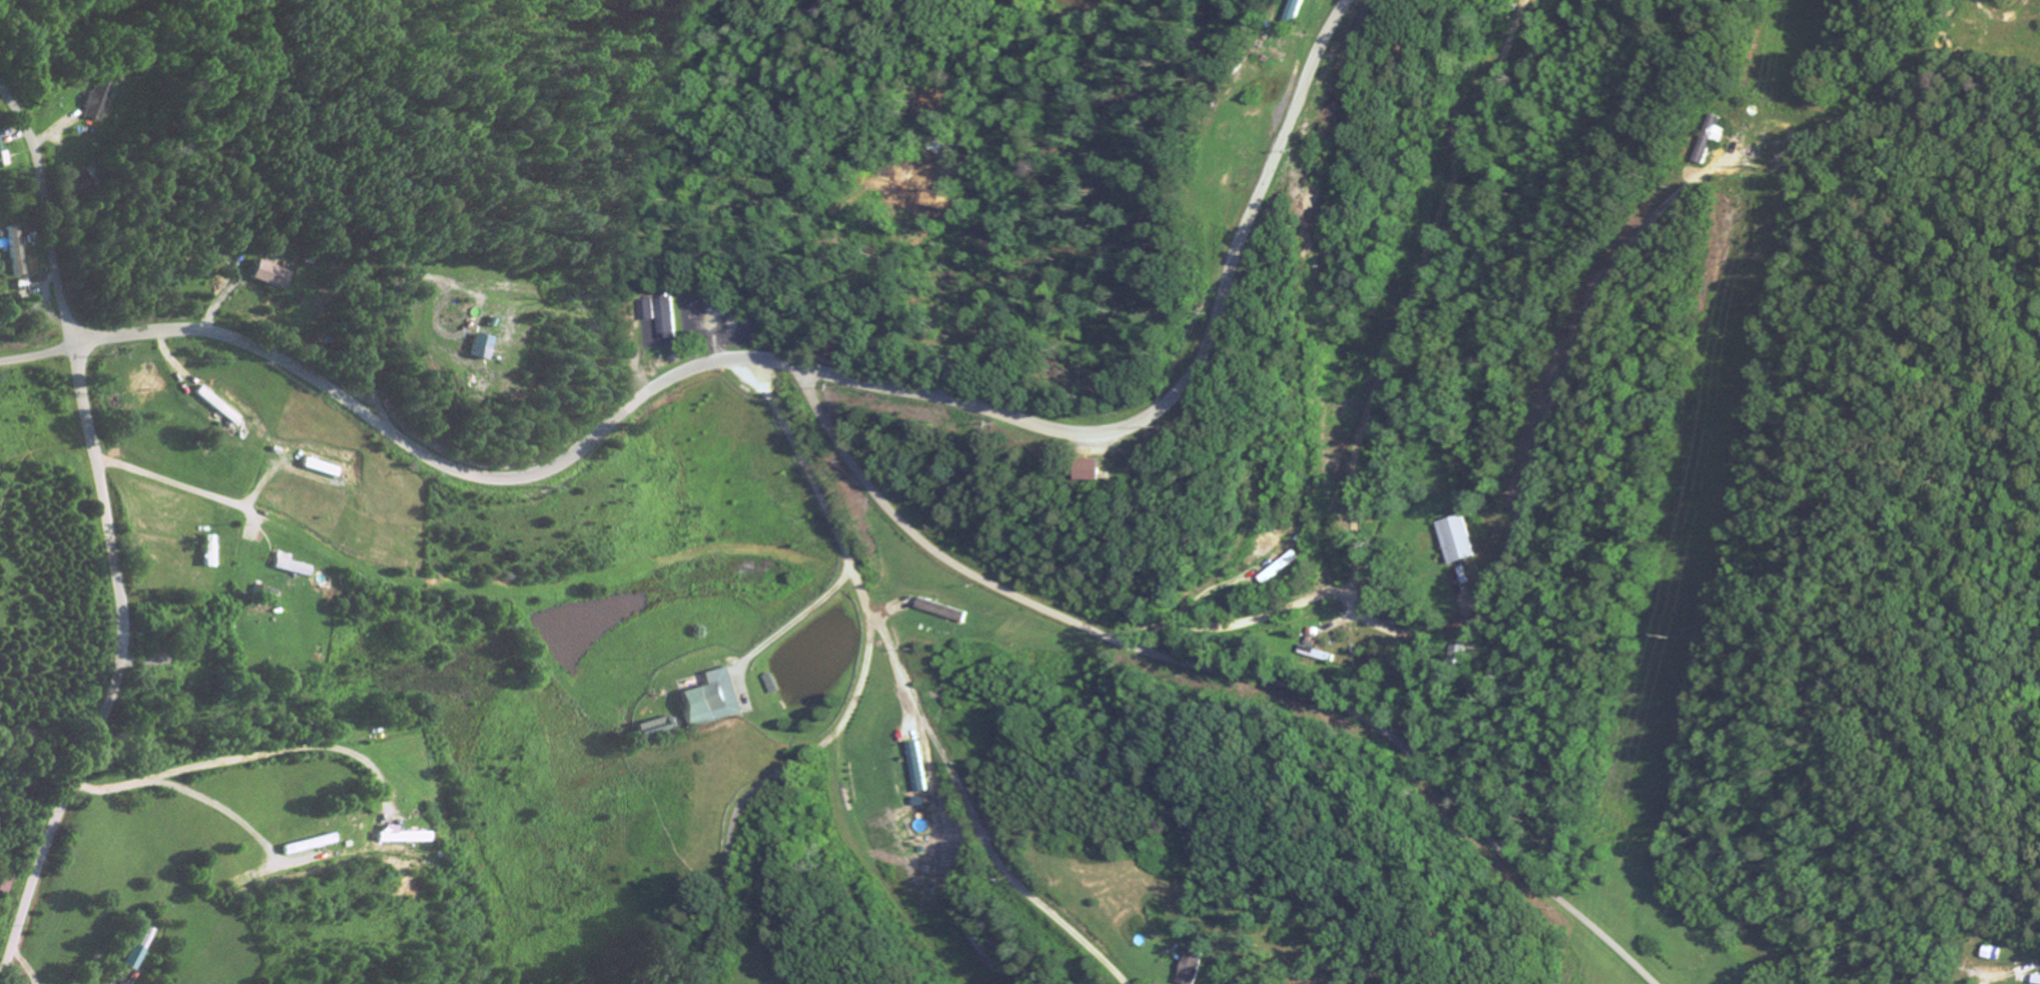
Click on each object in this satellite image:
building: (1316, 0)
building: (1301, 11)
building: (100, 102)
building: (1717, 138)
building: (4, 157)
power tower: (1767, 163)
building: (82, 186)
road: (50, 215)
building: (20, 253)
building: (276, 277)
road: (1591, 316)
building: (651, 318)
building: (670, 320)
road: (44, 356)
road: (822, 374)
road: (125, 467)
building: (325, 469)
building: (1092, 472)
road: (838, 535)
building: (1456, 542)
building: (295, 567)
building: (1285, 570)
road: (1301, 600)
building: (943, 612)
power tower: (1667, 636)
road: (1221, 670)
road: (120, 674)
building: (773, 685)
building: (715, 700)
building: (660, 730)
road: (240, 761)
building: (916, 769)
road: (785, 771)
road: (971, 815)
building: (406, 839)
building: (314, 847)
building: (144, 952)
building: (1195, 967)
building: (2037, 980)

